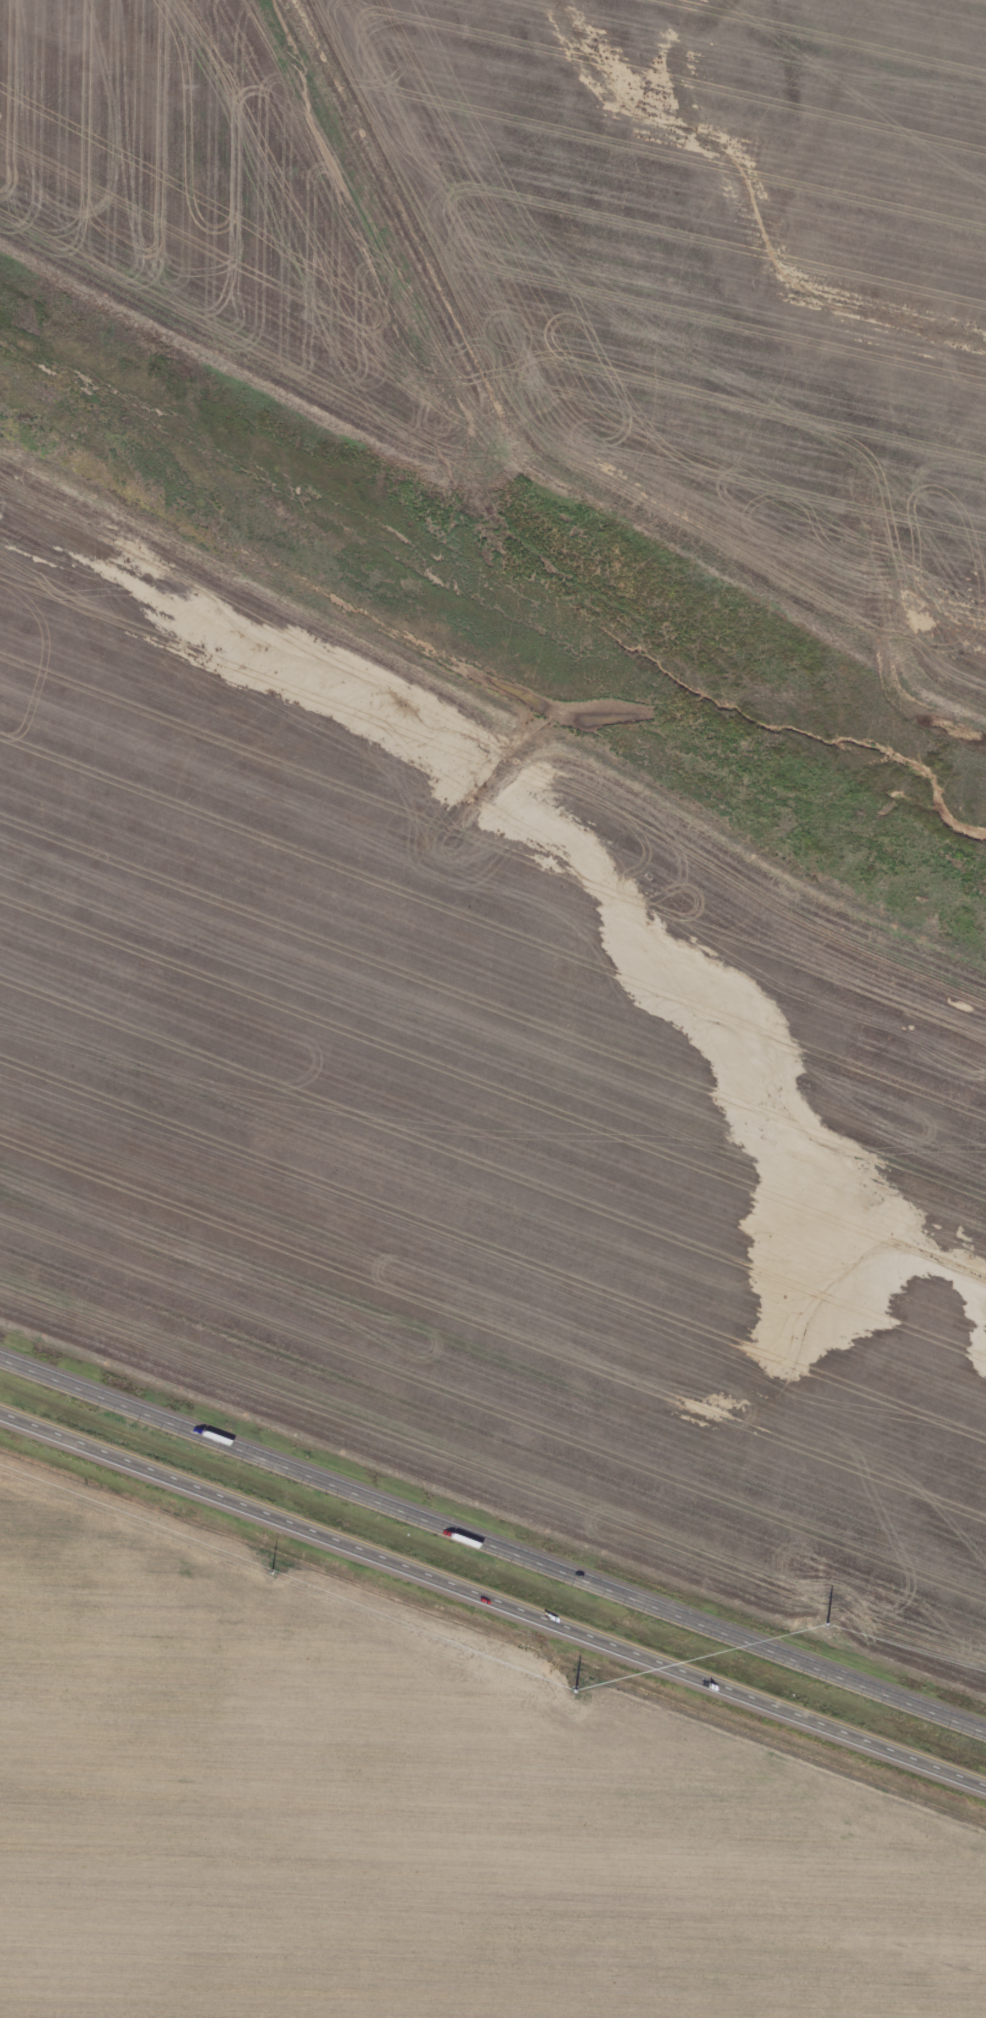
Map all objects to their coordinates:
road: (493, 1543)
power tower: (270, 1567)
road: (492, 1607)
power tower: (829, 1634)
power tower: (579, 1682)

